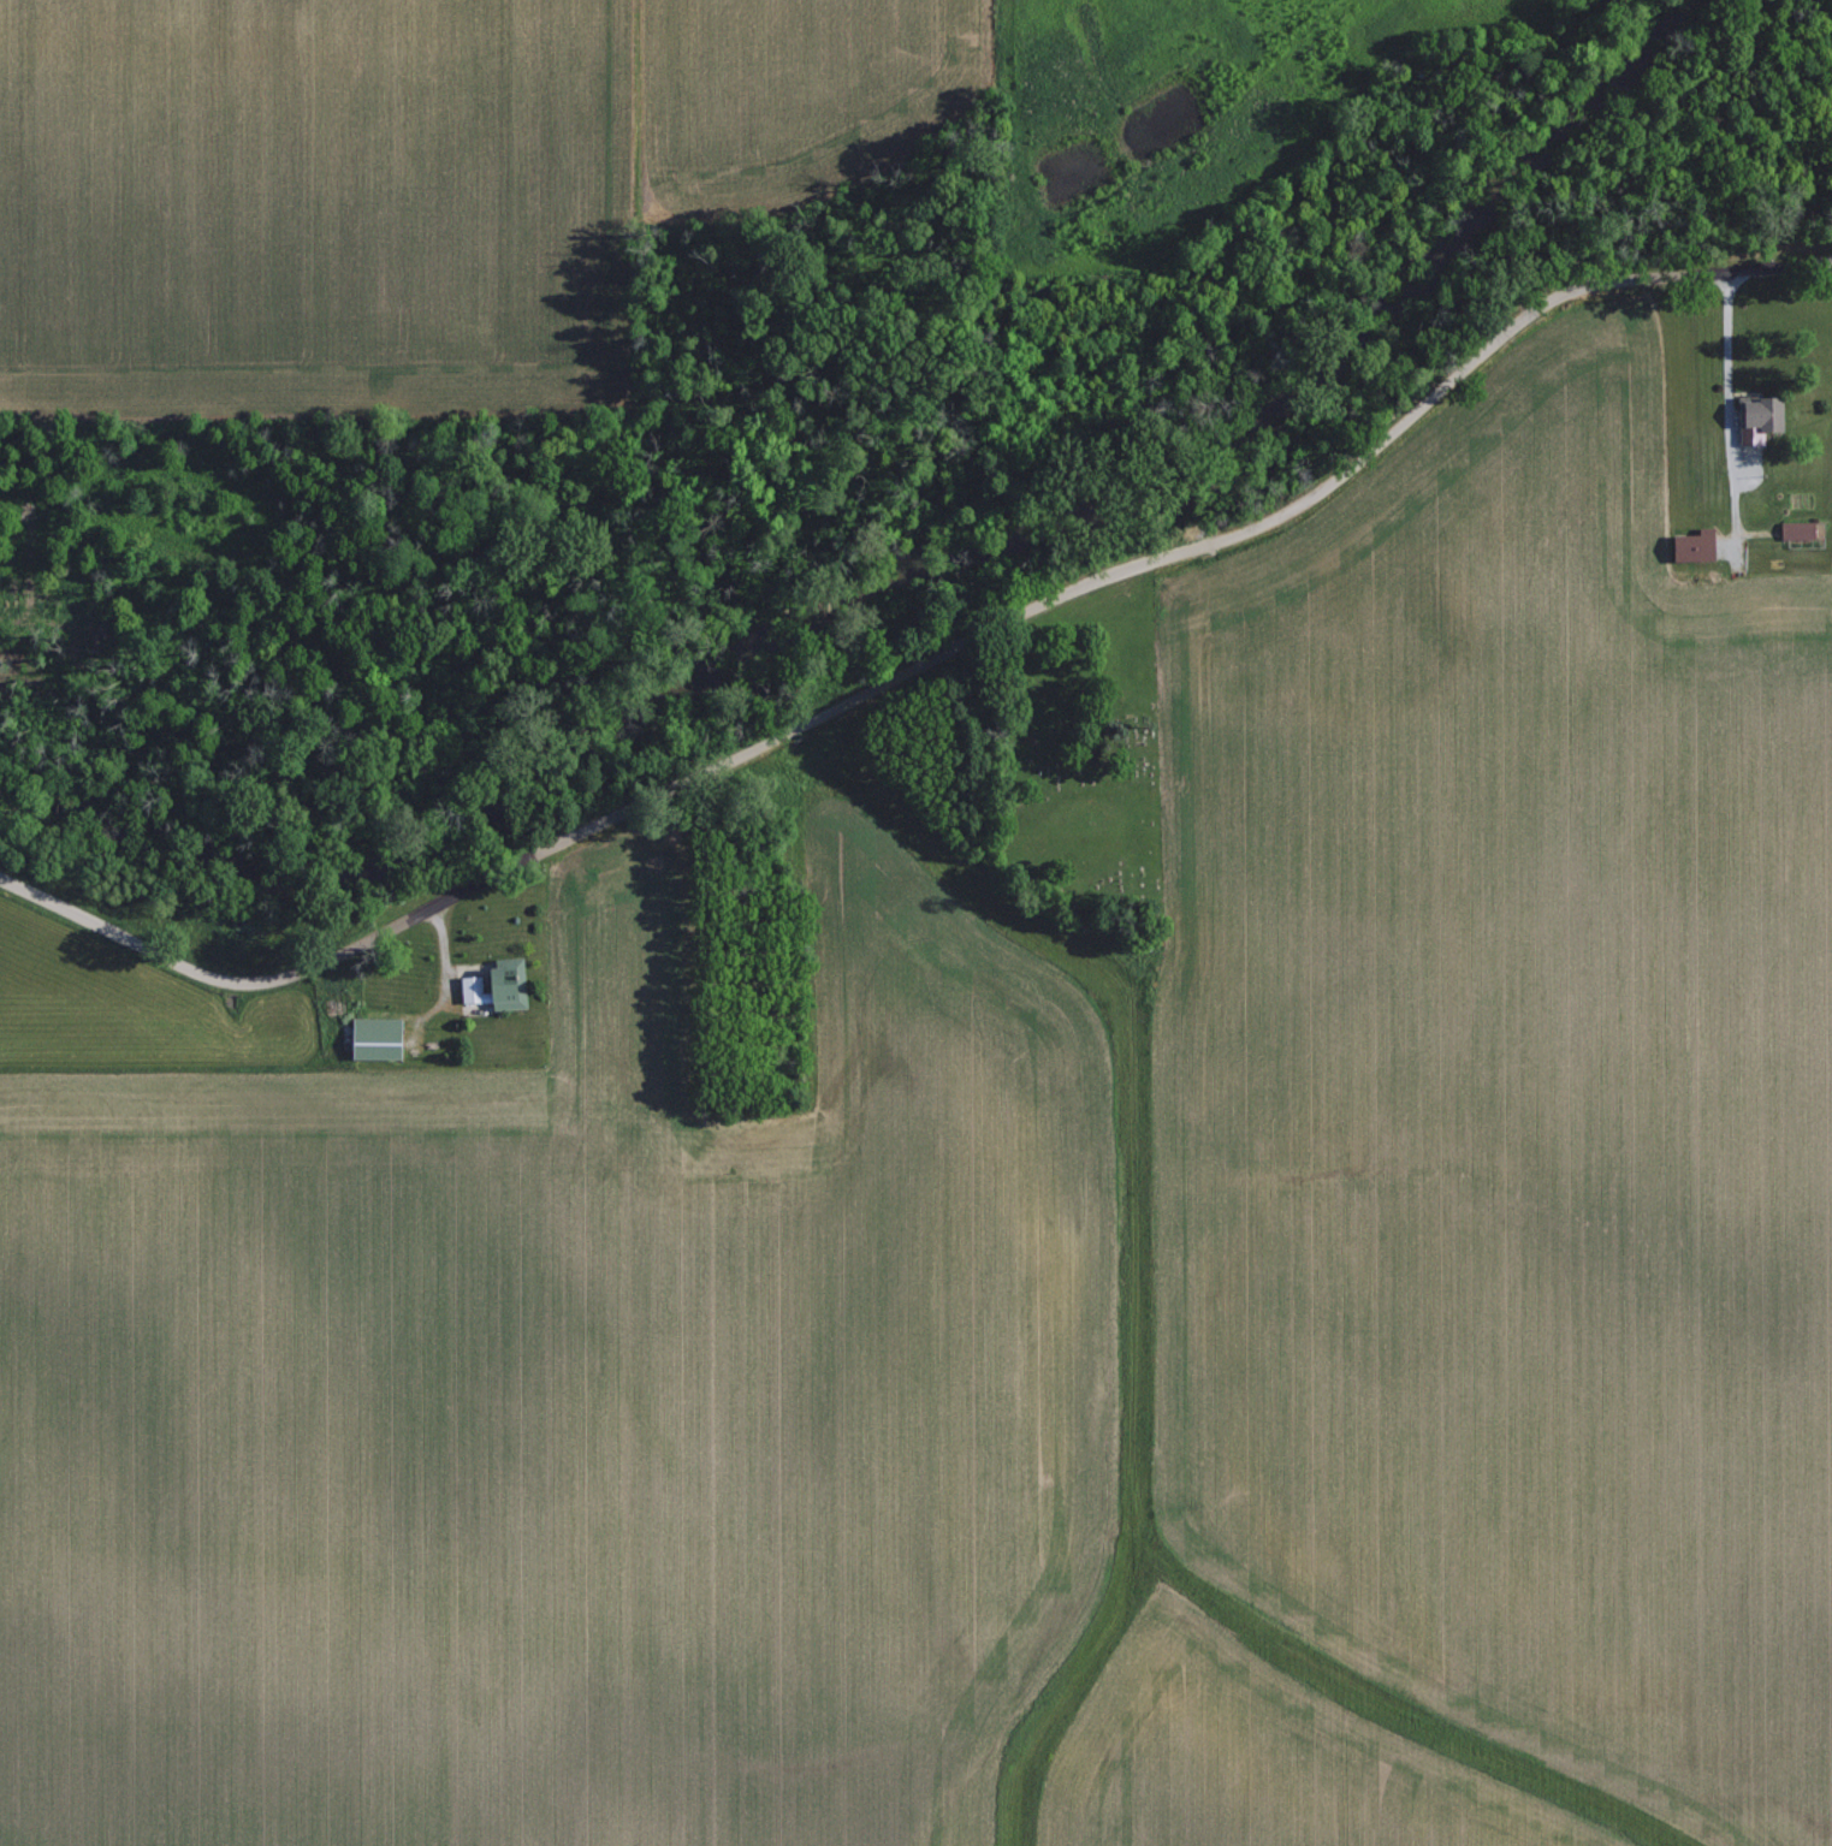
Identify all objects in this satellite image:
building: (1757, 412)
building: (1796, 529)
building: (1691, 545)
river: (897, 546)
road: (923, 659)
building: (494, 984)
building: (372, 1038)

